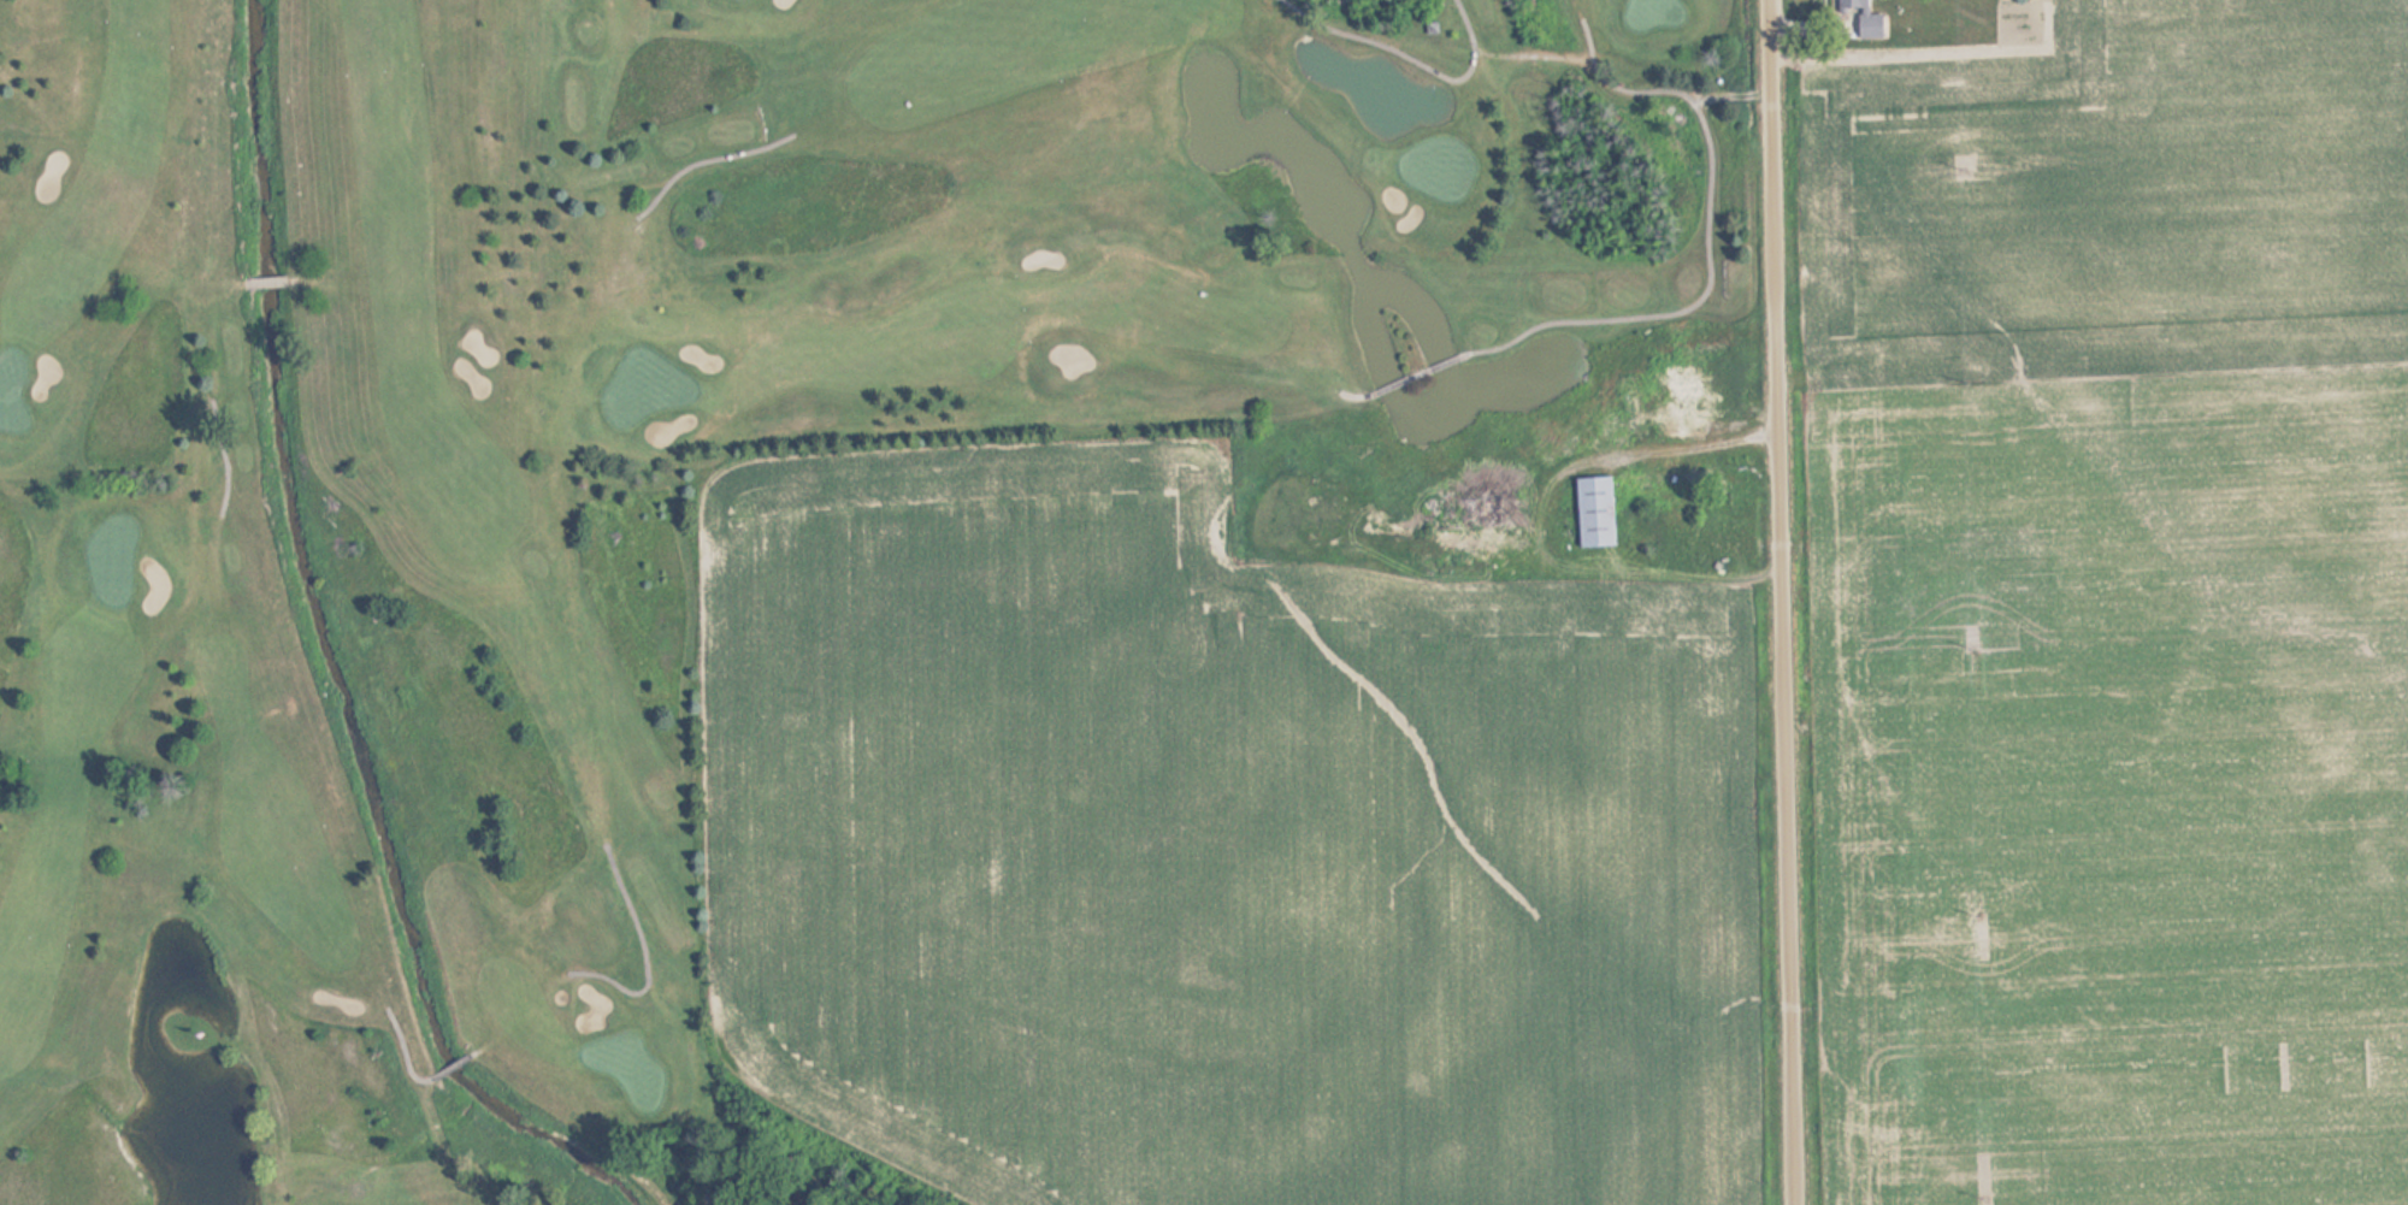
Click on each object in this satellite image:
building: (1863, 17)
building: (1684, 406)
park: (643, 475)
building: (1598, 513)
road: (1780, 602)
crop: (2105, 610)

